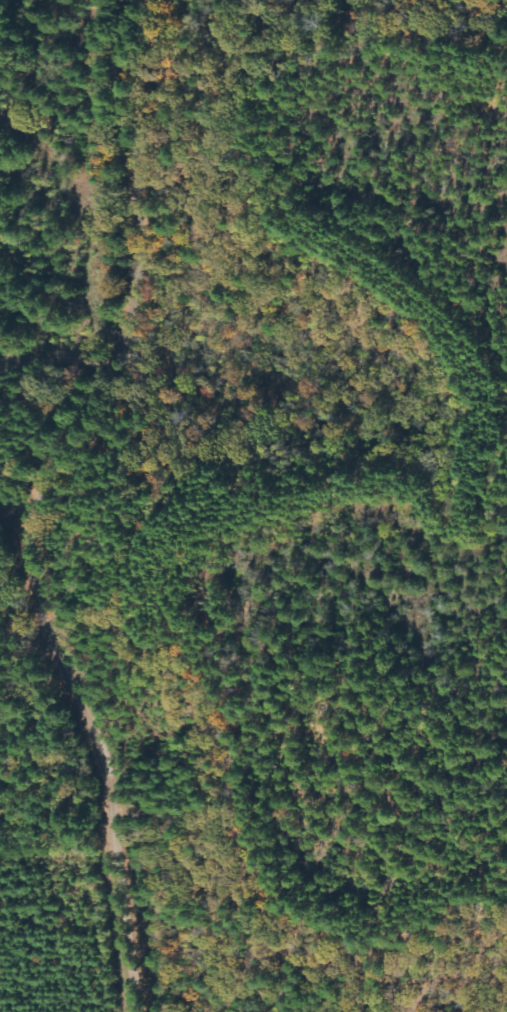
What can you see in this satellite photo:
road: (34, 501)
road: (18, 583)

